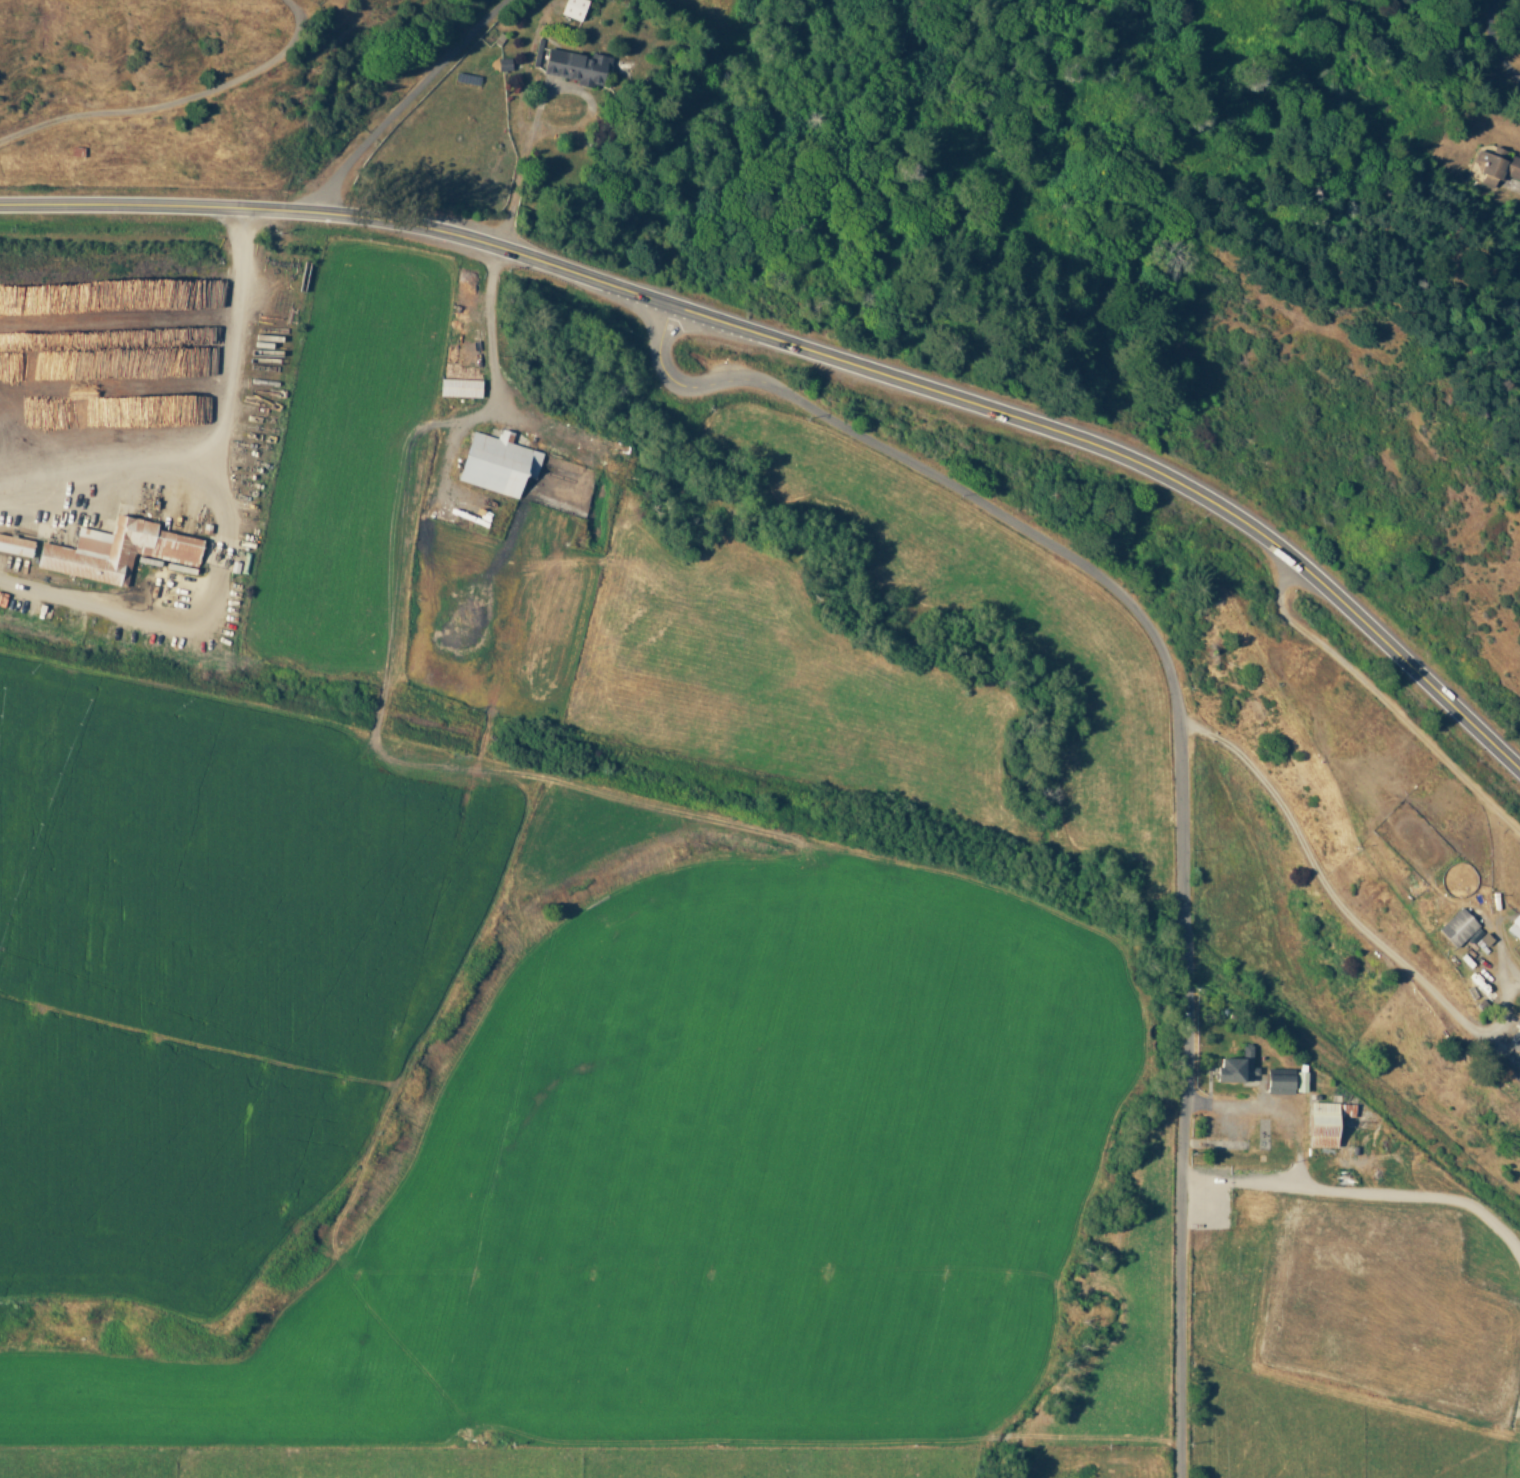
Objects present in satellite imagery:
building: (572, 8)
road: (1491, 43)
building: (503, 64)
building: (575, 66)
road: (173, 100)
road: (400, 104)
building: (1495, 166)
road: (338, 224)
building: (496, 462)
road: (1132, 466)
building: (15, 545)
building: (115, 550)
road: (1182, 732)
road: (1434, 752)
building: (1457, 927)
building: (1514, 927)
building: (1515, 1043)
building: (1235, 1066)
building: (1299, 1081)
building: (1278, 1083)
building: (1320, 1124)

